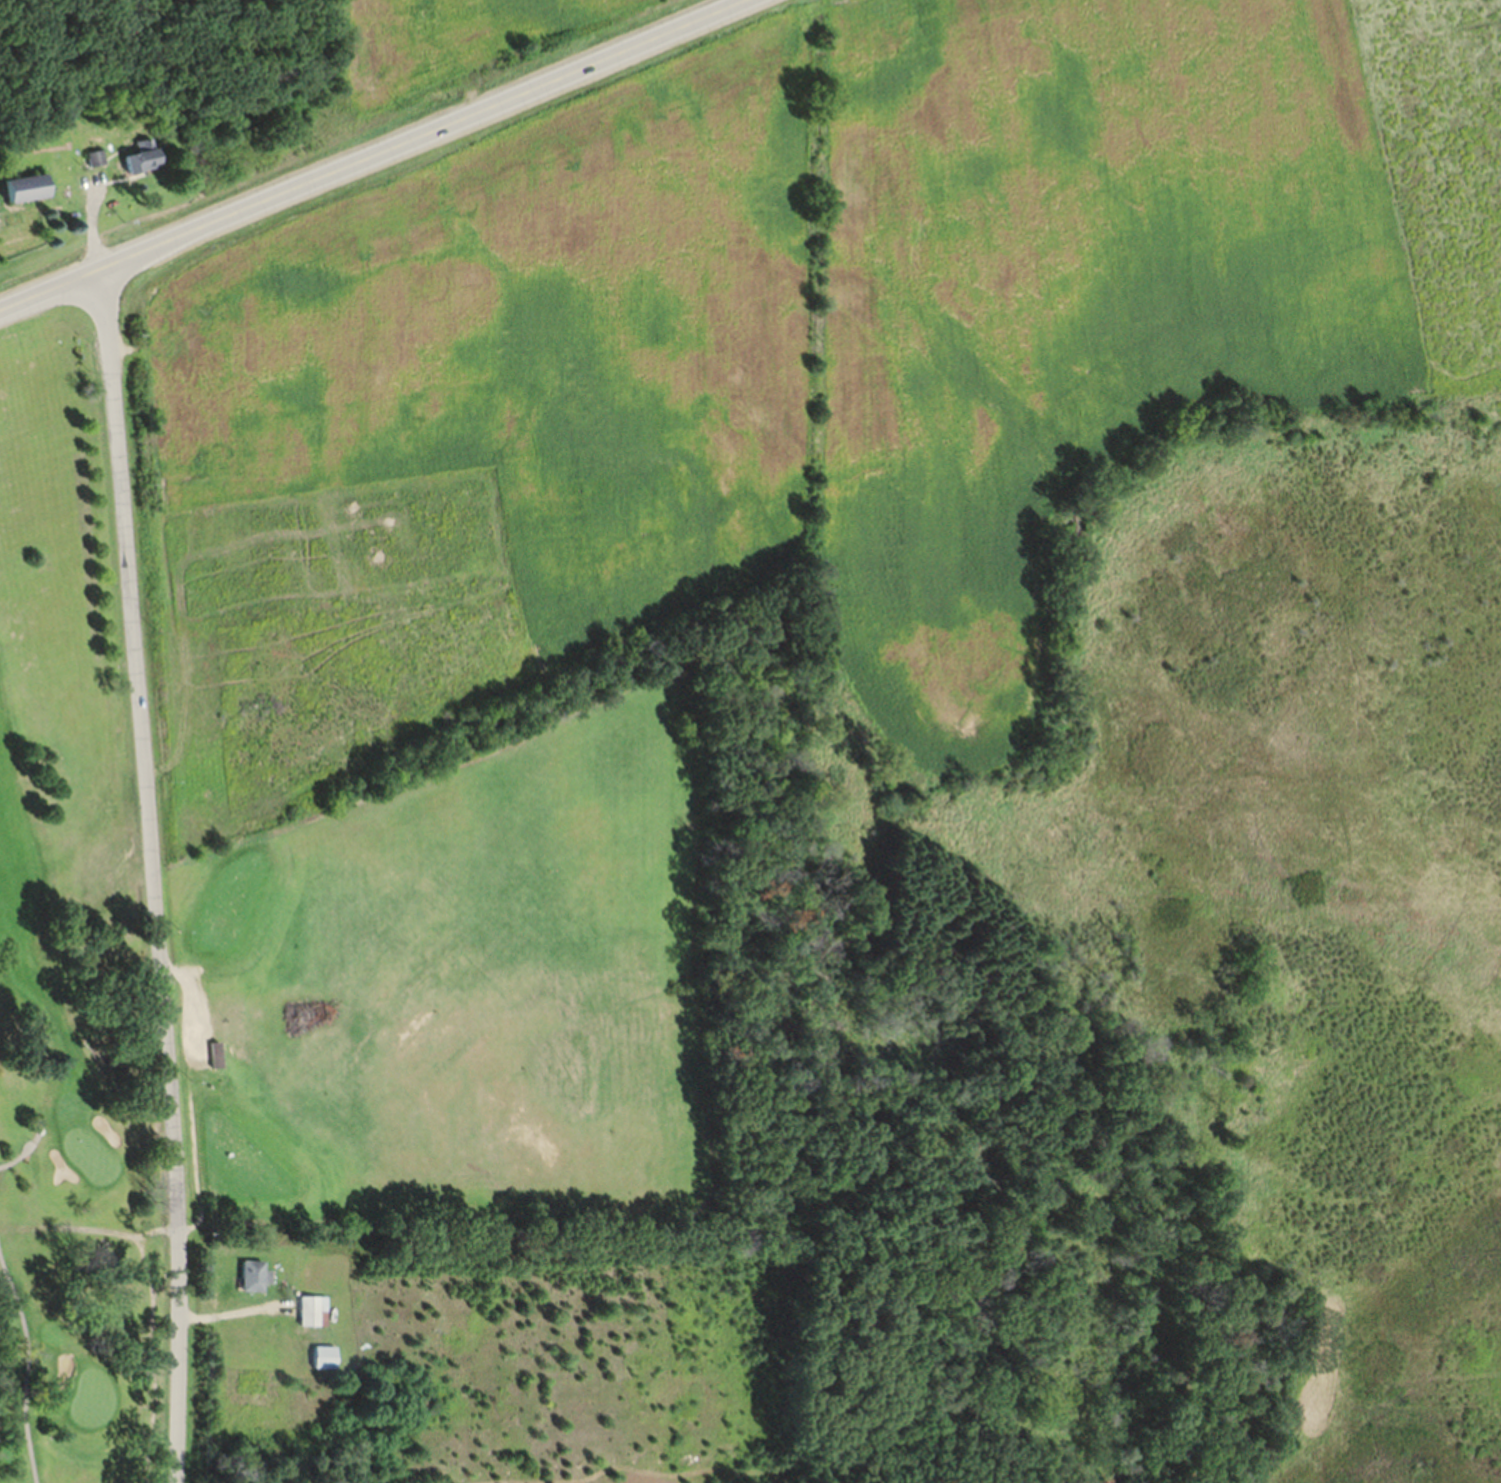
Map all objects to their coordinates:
road: (374, 156)
building: (94, 166)
building: (141, 166)
building: (21, 196)
road: (152, 876)
building: (252, 1283)
road: (233, 1310)
building: (311, 1319)
building: (322, 1365)

